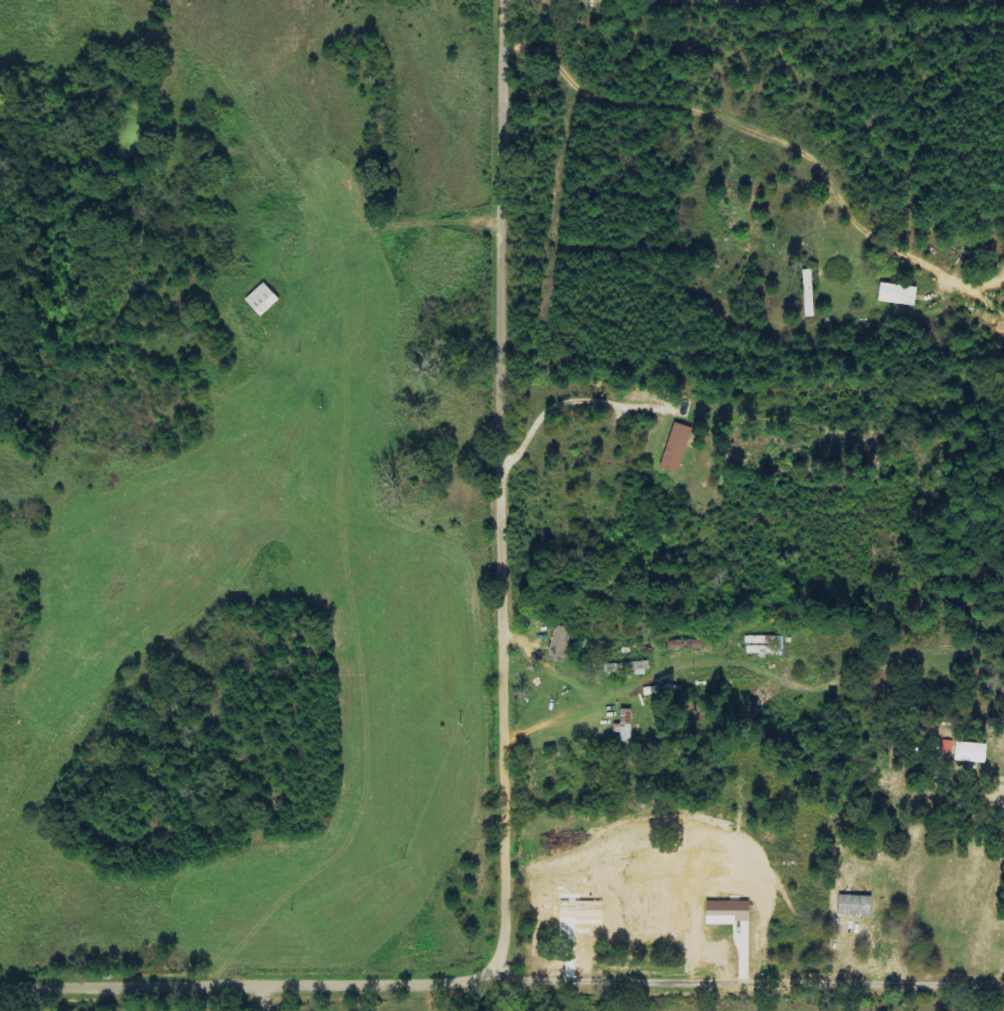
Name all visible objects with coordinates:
building: (894, 295)
building: (259, 300)
building: (674, 447)
road: (501, 487)
building: (558, 643)
building: (685, 645)
building: (764, 645)
building: (628, 668)
building: (621, 730)
building: (968, 753)
building: (853, 906)
building: (876, 952)
road: (747, 983)
road: (247, 987)

